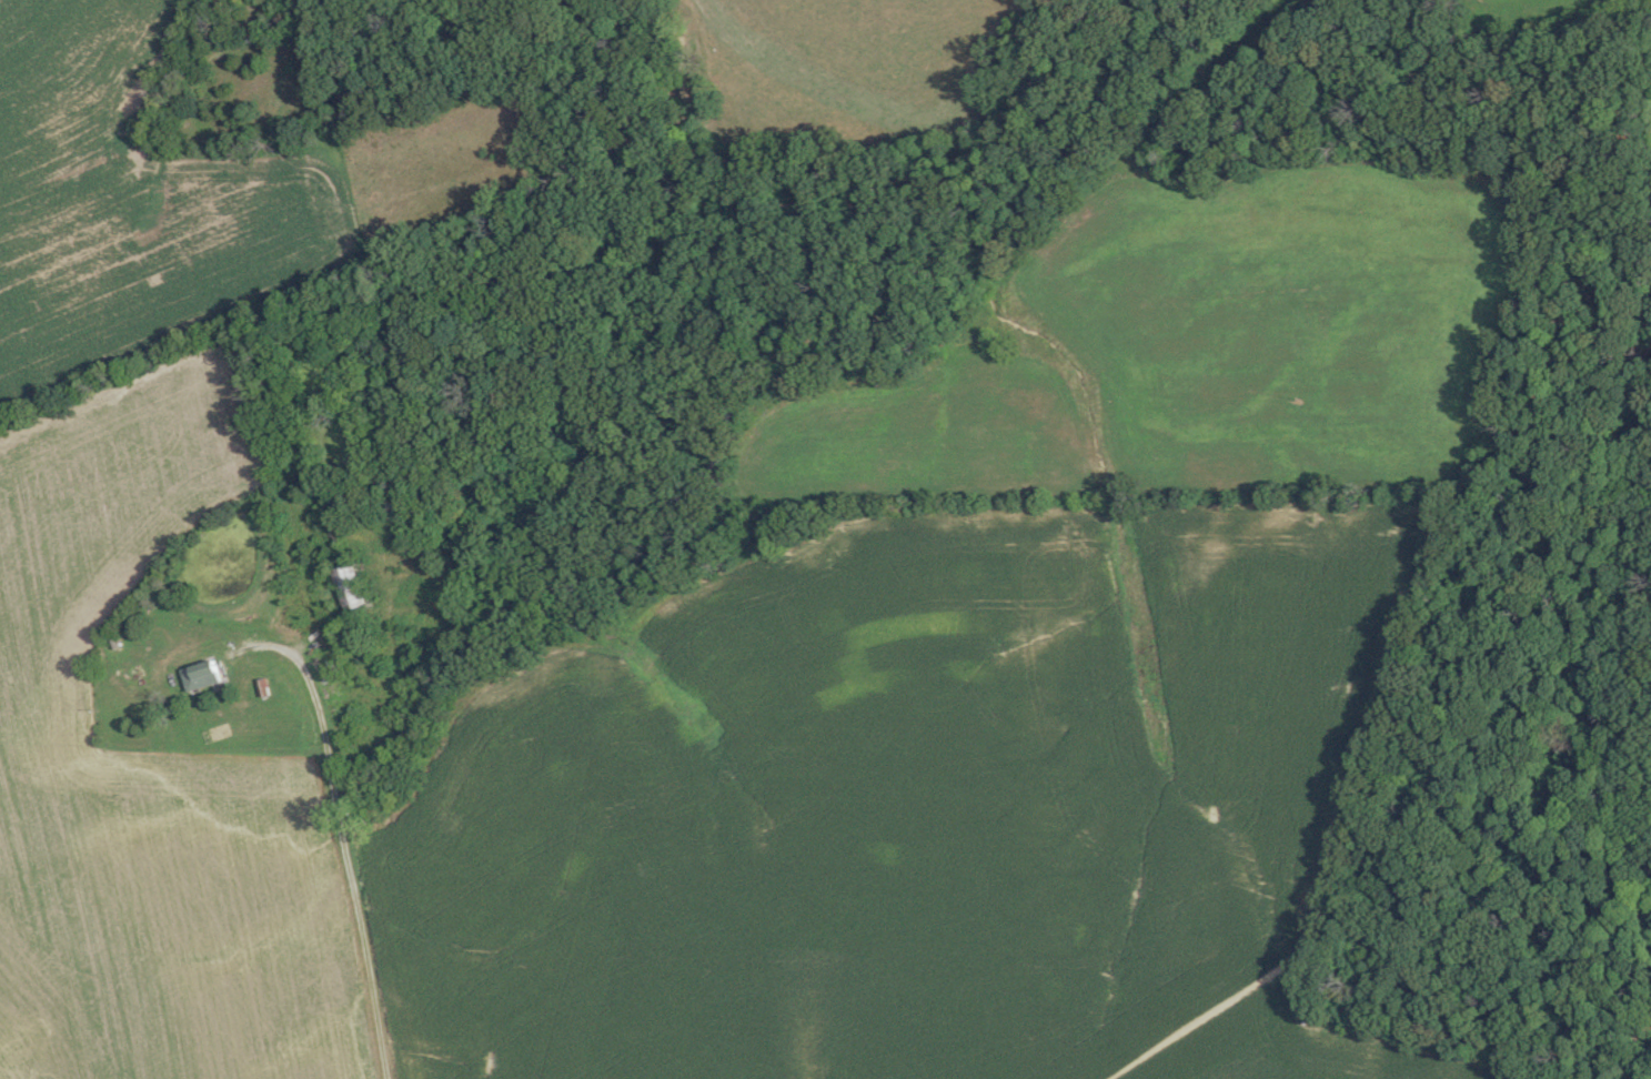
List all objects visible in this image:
building: (349, 586)
building: (198, 675)
road: (340, 833)

